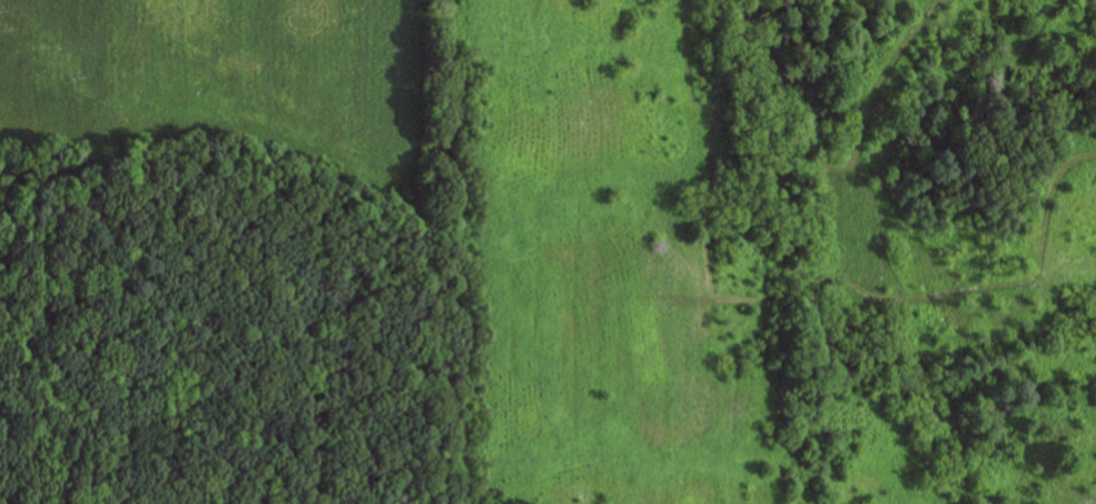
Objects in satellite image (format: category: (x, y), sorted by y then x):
crop: (216, 81)

